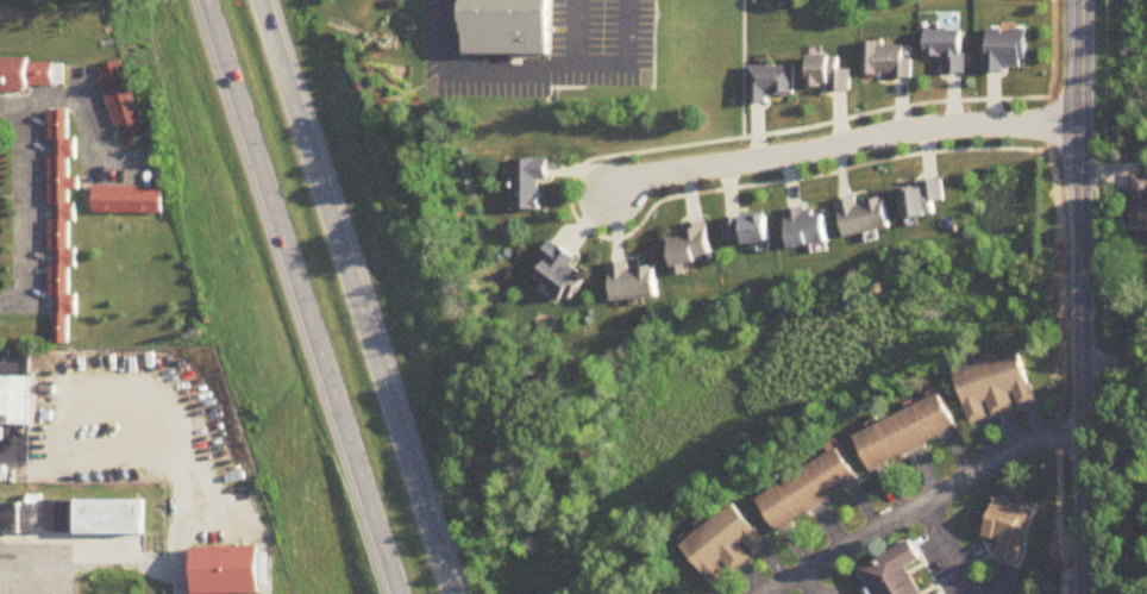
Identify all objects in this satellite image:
building: (510, 25)
road: (577, 30)
park: (377, 50)
building: (947, 51)
building: (1005, 52)
building: (885, 62)
road: (735, 64)
building: (27, 75)
road: (532, 75)
building: (828, 76)
building: (769, 83)
building: (120, 100)
road: (84, 117)
road: (839, 136)
building: (526, 185)
building: (127, 200)
building: (925, 201)
building: (1139, 202)
road: (21, 205)
road: (573, 217)
building: (865, 218)
road: (1080, 218)
building: (61, 227)
building: (809, 230)
building: (751, 231)
building: (695, 248)
building: (562, 274)
building: (634, 285)
road: (305, 296)
road: (355, 296)
road: (11, 304)
road: (1114, 358)
road: (7, 373)
building: (997, 389)
building: (14, 404)
building: (908, 436)
road: (8, 452)
building: (810, 492)
road: (920, 504)
road: (1082, 515)
building: (73, 517)
road: (1114, 521)
building: (1009, 530)
building: (726, 546)
road: (942, 551)
building: (227, 570)
road: (32, 573)
building: (895, 573)

